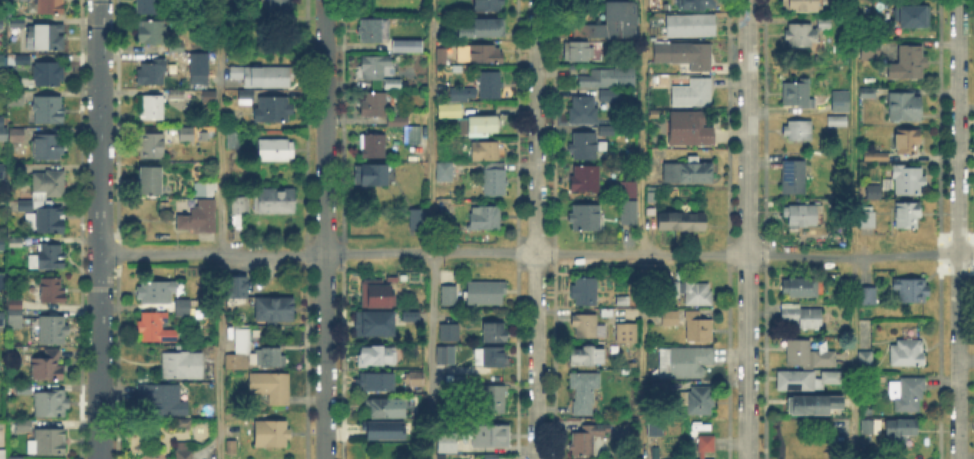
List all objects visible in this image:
building: (488, 5)
building: (656, 5)
building: (698, 5)
building: (50, 6)
building: (150, 6)
building: (801, 6)
building: (278, 9)
building: (913, 17)
building: (613, 21)
building: (18, 22)
building: (1, 23)
building: (825, 26)
building: (688, 27)
building: (373, 29)
building: (483, 30)
building: (151, 32)
building: (800, 36)
building: (47, 37)
building: (176, 46)
building: (407, 46)
building: (578, 49)
building: (870, 51)
building: (482, 54)
building: (443, 57)
building: (686, 57)
building: (23, 59)
building: (2, 61)
building: (909, 63)
building: (375, 66)
building: (199, 69)
building: (153, 71)
building: (49, 72)
building: (264, 75)
building: (608, 78)
building: (490, 86)
building: (864, 91)
building: (463, 92)
building: (177, 94)
building: (693, 94)
building: (798, 94)
building: (209, 95)
building: (611, 95)
building: (17, 98)
building: (840, 103)
building: (373, 104)
building: (153, 106)
building: (448, 108)
building: (49, 109)
building: (273, 109)
building: (904, 109)
building: (583, 110)
building: (838, 123)
building: (481, 124)
building: (607, 130)
building: (691, 130)
building: (187, 131)
building: (799, 131)
building: (10, 132)
building: (412, 133)
building: (234, 141)
building: (908, 143)
building: (151, 144)
building: (375, 144)
building: (587, 144)
building: (49, 145)
building: (275, 147)
building: (486, 149)
building: (874, 158)
building: (1, 169)
building: (18, 171)
building: (447, 171)
building: (684, 171)
building: (371, 175)
building: (794, 178)
building: (496, 180)
building: (585, 180)
building: (149, 182)
building: (909, 183)
building: (49, 184)
building: (627, 189)
building: (208, 190)
building: (874, 192)
building: (652, 197)
building: (275, 202)
building: (26, 206)
building: (240, 206)
building: (651, 213)
building: (630, 214)
building: (908, 216)
building: (584, 217)
building: (200, 218)
building: (485, 218)
building: (799, 218)
building: (868, 218)
building: (418, 220)
building: (45, 221)
building: (681, 222)
road: (99, 229)
road: (220, 229)
road: (325, 229)
road: (433, 229)
road: (536, 229)
road: (641, 229)
road: (748, 229)
road: (851, 229)
road: (958, 229)
building: (16, 243)
building: (2, 245)
road: (536, 255)
building: (51, 257)
building: (2, 281)
building: (237, 288)
building: (801, 288)
building: (674, 290)
building: (53, 291)
building: (585, 291)
building: (911, 292)
building: (155, 293)
building: (377, 294)
building: (486, 294)
building: (697, 294)
building: (449, 295)
building: (867, 297)
building: (623, 303)
building: (185, 310)
building: (275, 310)
building: (14, 315)
building: (803, 316)
building: (1, 319)
building: (671, 319)
building: (377, 324)
building: (584, 326)
building: (156, 328)
building: (54, 329)
building: (699, 329)
building: (495, 333)
building: (449, 334)
building: (627, 334)
building: (239, 351)
building: (908, 354)
building: (445, 355)
building: (475, 355)
building: (377, 356)
building: (809, 356)
building: (587, 357)
building: (268, 358)
building: (490, 358)
building: (867, 361)
building: (685, 362)
building: (183, 366)
building: (49, 367)
building: (414, 379)
building: (807, 381)
building: (375, 383)
building: (272, 388)
building: (458, 389)
building: (23, 390)
building: (660, 390)
building: (584, 392)
building: (908, 394)
building: (163, 399)
building: (415, 400)
building: (495, 400)
building: (699, 401)
building: (51, 405)
building: (814, 405)
building: (381, 411)
building: (867, 424)
building: (185, 425)
building: (24, 426)
building: (656, 431)
building: (384, 432)
building: (272, 433)
building: (898, 433)
building: (489, 436)
building: (588, 440)
building: (48, 442)
building: (448, 444)
building: (702, 445)
building: (232, 448)
building: (183, 451)
building: (3, 455)
building: (441, 457)
building: (491, 457)
building: (15, 458)
building: (455, 458)
building: (701, 458)

